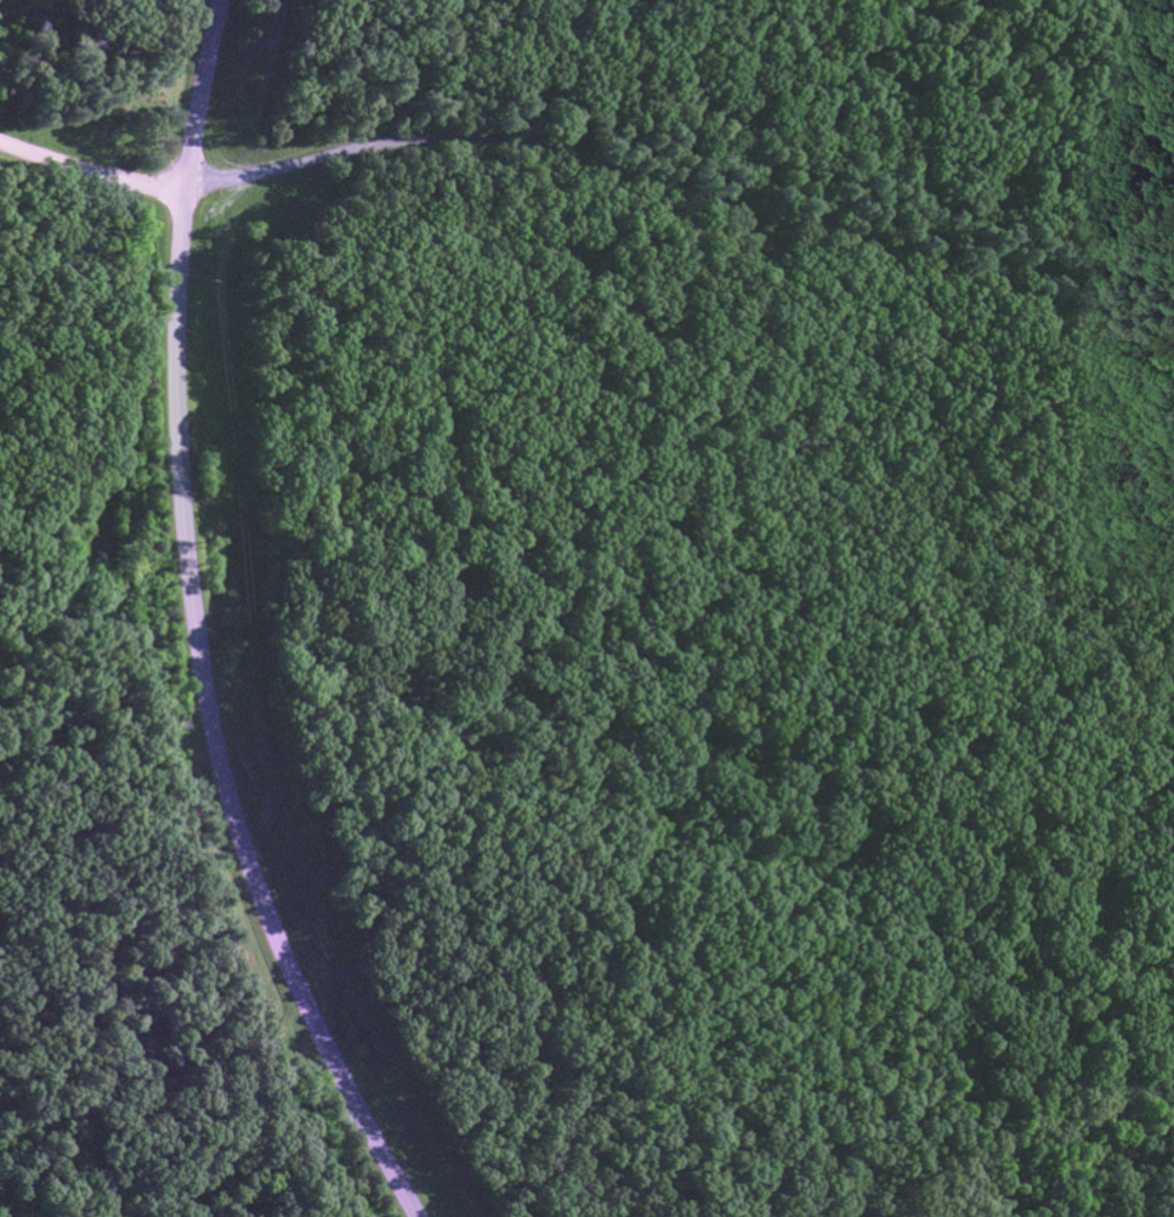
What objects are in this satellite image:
road: (92, 172)
road: (687, 196)
road: (194, 627)

